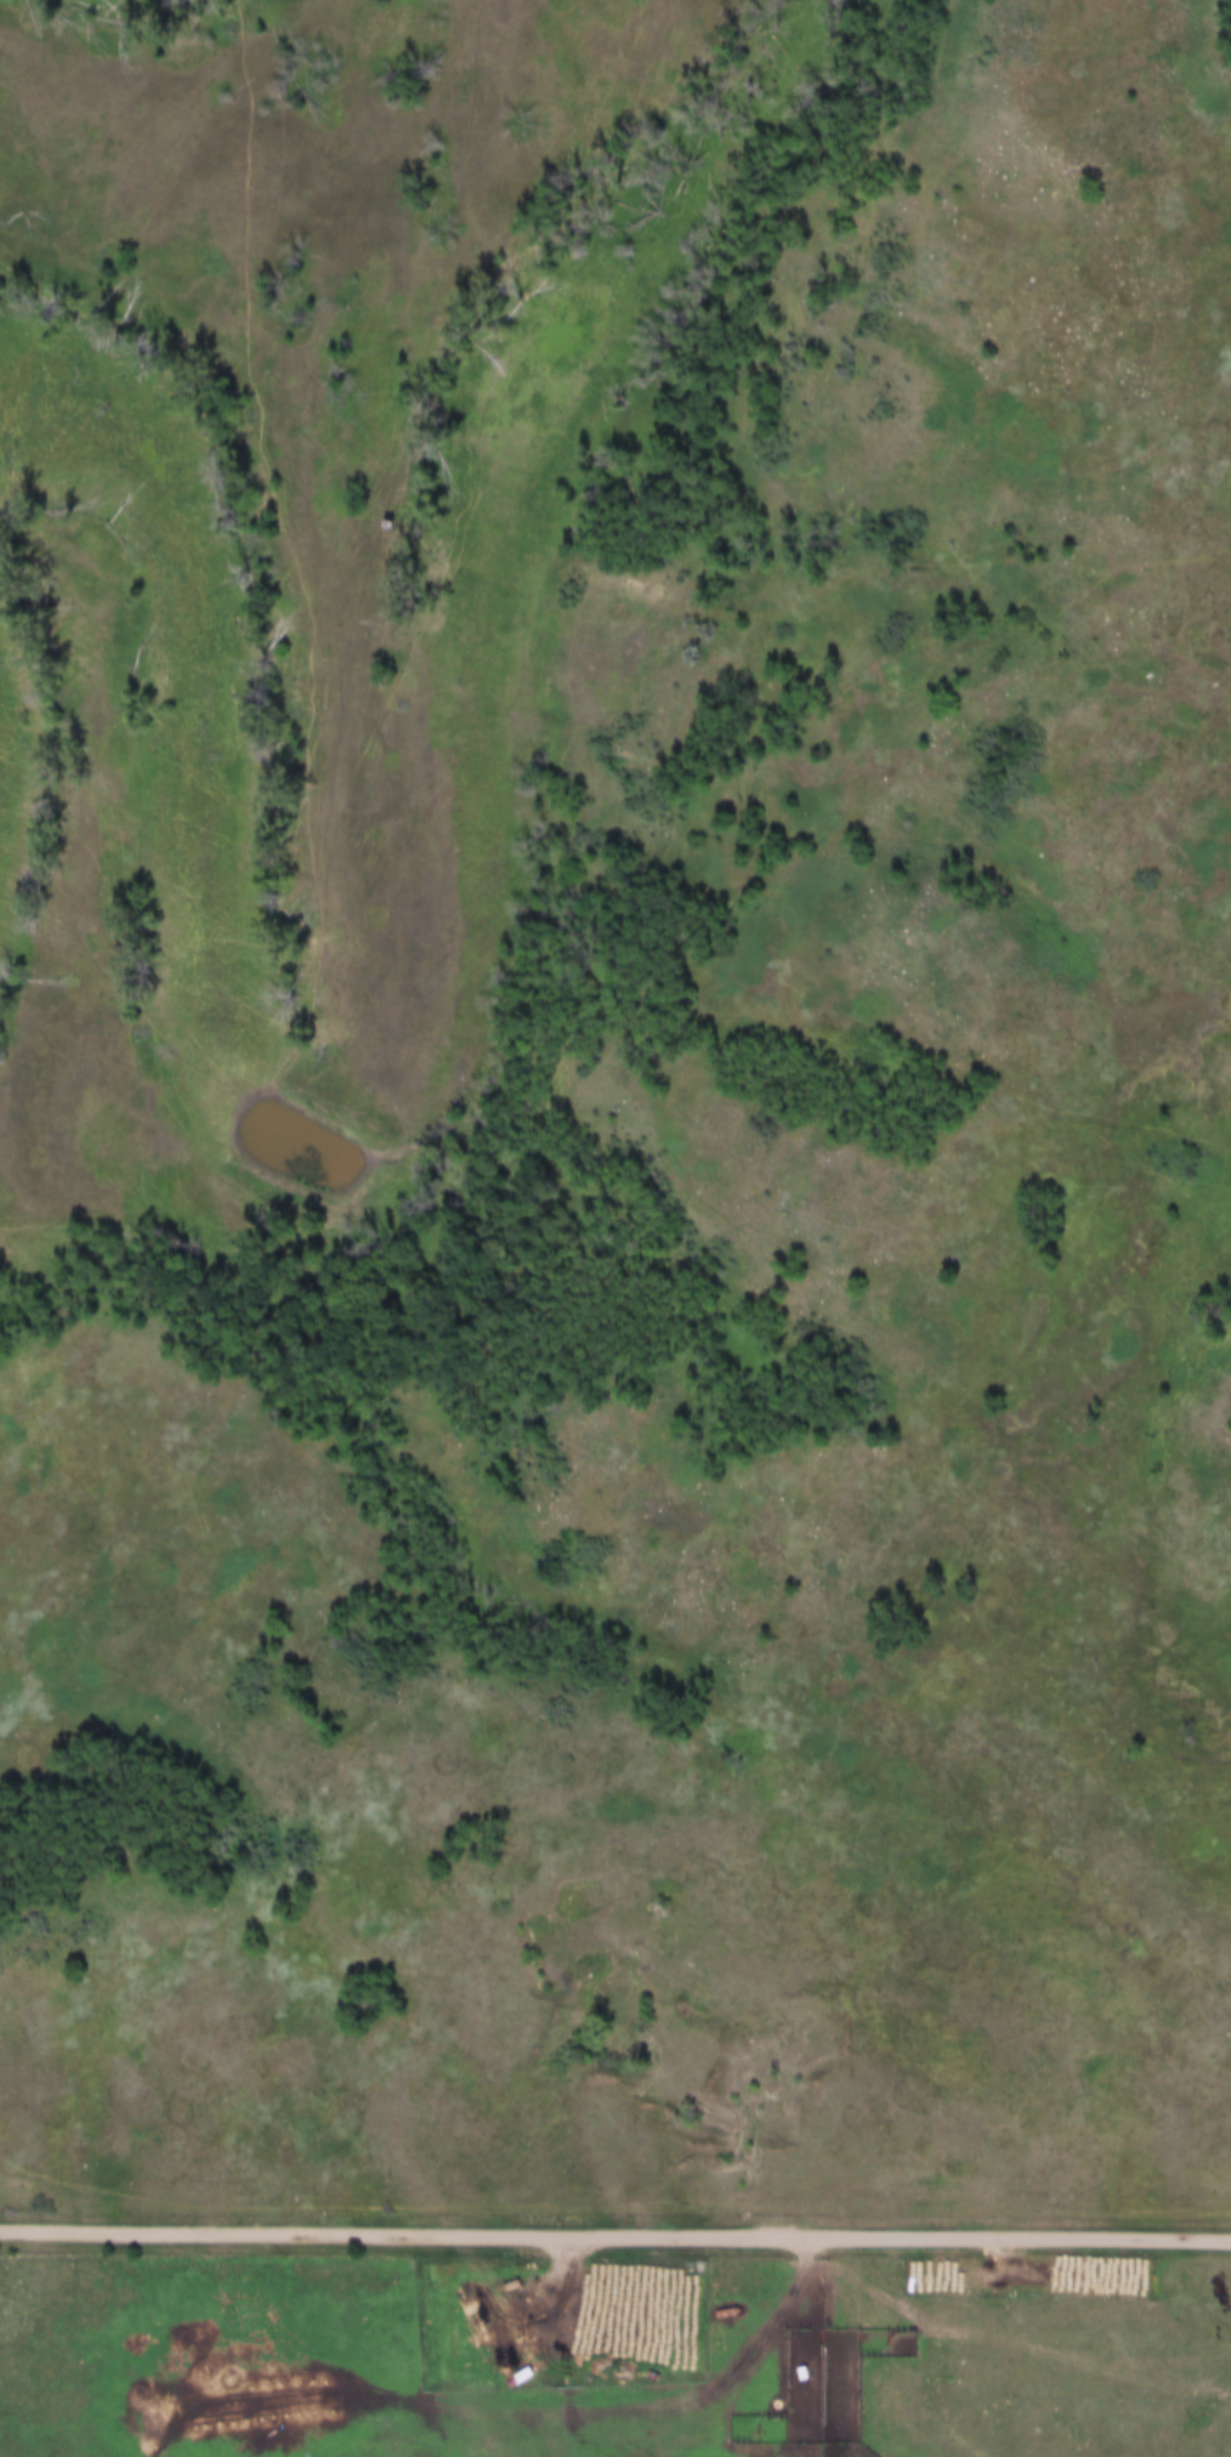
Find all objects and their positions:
road: (615, 2234)

